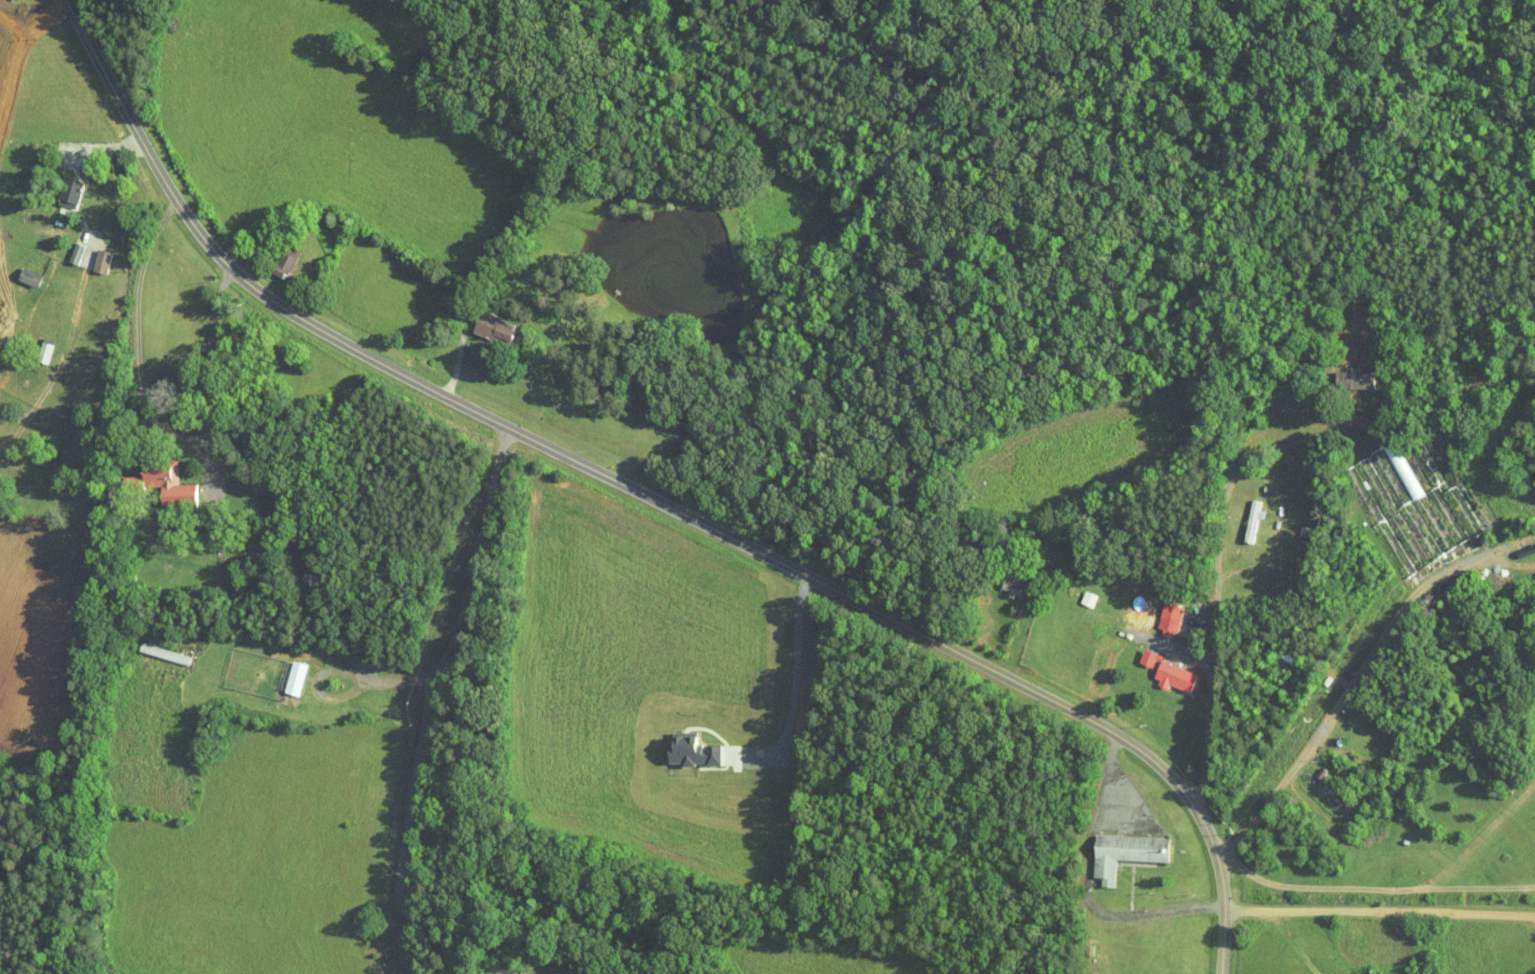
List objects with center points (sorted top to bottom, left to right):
road: (105, 148)
building: (57, 186)
building: (63, 247)
building: (274, 252)
building: (88, 254)
road: (280, 267)
building: (15, 270)
building: (480, 321)
building: (33, 344)
road: (207, 355)
road: (458, 355)
road: (138, 360)
building: (1342, 373)
road: (1388, 392)
building: (156, 478)
road: (654, 499)
building: (1240, 514)
road: (1279, 519)
road: (1217, 561)
building: (999, 579)
building: (1075, 592)
building: (1156, 614)
road: (1014, 634)
road: (339, 669)
building: (1161, 671)
building: (282, 672)
road: (791, 678)
road: (1339, 696)
road: (1145, 716)
road: (427, 724)
building: (679, 745)
building: (1112, 847)
road: (1086, 885)
road: (1372, 887)
road: (1379, 911)

